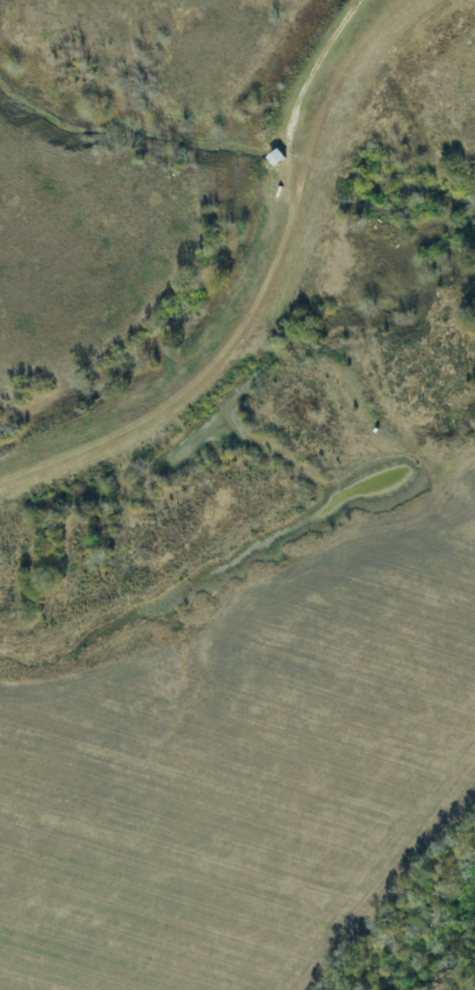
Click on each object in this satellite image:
road: (262, 303)

